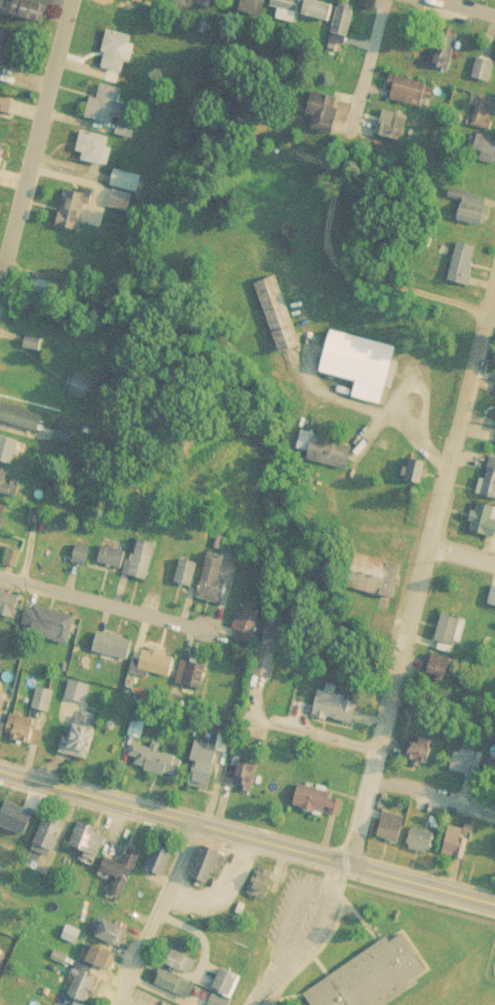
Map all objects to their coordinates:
building: (137, 2)
road: (462, 7)
building: (255, 10)
building: (19, 12)
building: (287, 12)
building: (320, 16)
building: (345, 26)
building: (3, 55)
building: (447, 55)
building: (118, 56)
road: (365, 65)
building: (484, 74)
building: (410, 97)
building: (111, 113)
building: (5, 115)
building: (484, 117)
building: (327, 118)
building: (396, 131)
road: (37, 147)
building: (97, 154)
building: (485, 154)
building: (1, 157)
building: (127, 186)
building: (75, 214)
building: (471, 214)
building: (464, 268)
road: (491, 310)
building: (275, 313)
building: (362, 359)
road: (316, 389)
building: (80, 390)
building: (22, 424)
building: (62, 434)
building: (65, 441)
building: (494, 442)
building: (319, 443)
building: (11, 457)
building: (414, 466)
building: (490, 486)
building: (6, 488)
building: (3, 520)
building: (485, 526)
road: (461, 547)
building: (113, 562)
building: (144, 565)
road: (420, 568)
building: (189, 579)
building: (379, 583)
building: (218, 584)
building: (491, 595)
road: (107, 602)
building: (492, 602)
building: (9, 610)
building: (50, 630)
building: (249, 631)
building: (452, 637)
building: (114, 652)
building: (274, 657)
building: (158, 667)
building: (440, 675)
building: (194, 679)
building: (44, 705)
building: (336, 711)
road: (319, 734)
building: (26, 737)
building: (84, 744)
building: (425, 757)
building: (158, 767)
building: (469, 769)
building: (205, 772)
building: (243, 782)
road: (94, 796)
road: (431, 797)
building: (320, 807)
building: (19, 830)
building: (393, 833)
building: (51, 839)
building: (90, 843)
building: (424, 847)
building: (458, 850)
building: (159, 853)
road: (342, 858)
building: (485, 858)
building: (162, 859)
building: (209, 867)
building: (123, 878)
building: (262, 889)
road: (152, 913)
building: (114, 937)
road: (310, 940)
building: (101, 960)
building: (1, 966)
building: (183, 966)
building: (376, 979)
building: (177, 987)
building: (231, 987)
building: (84, 988)
road: (123, 1002)
building: (219, 1002)
building: (54, 1004)
building: (264, 1004)

